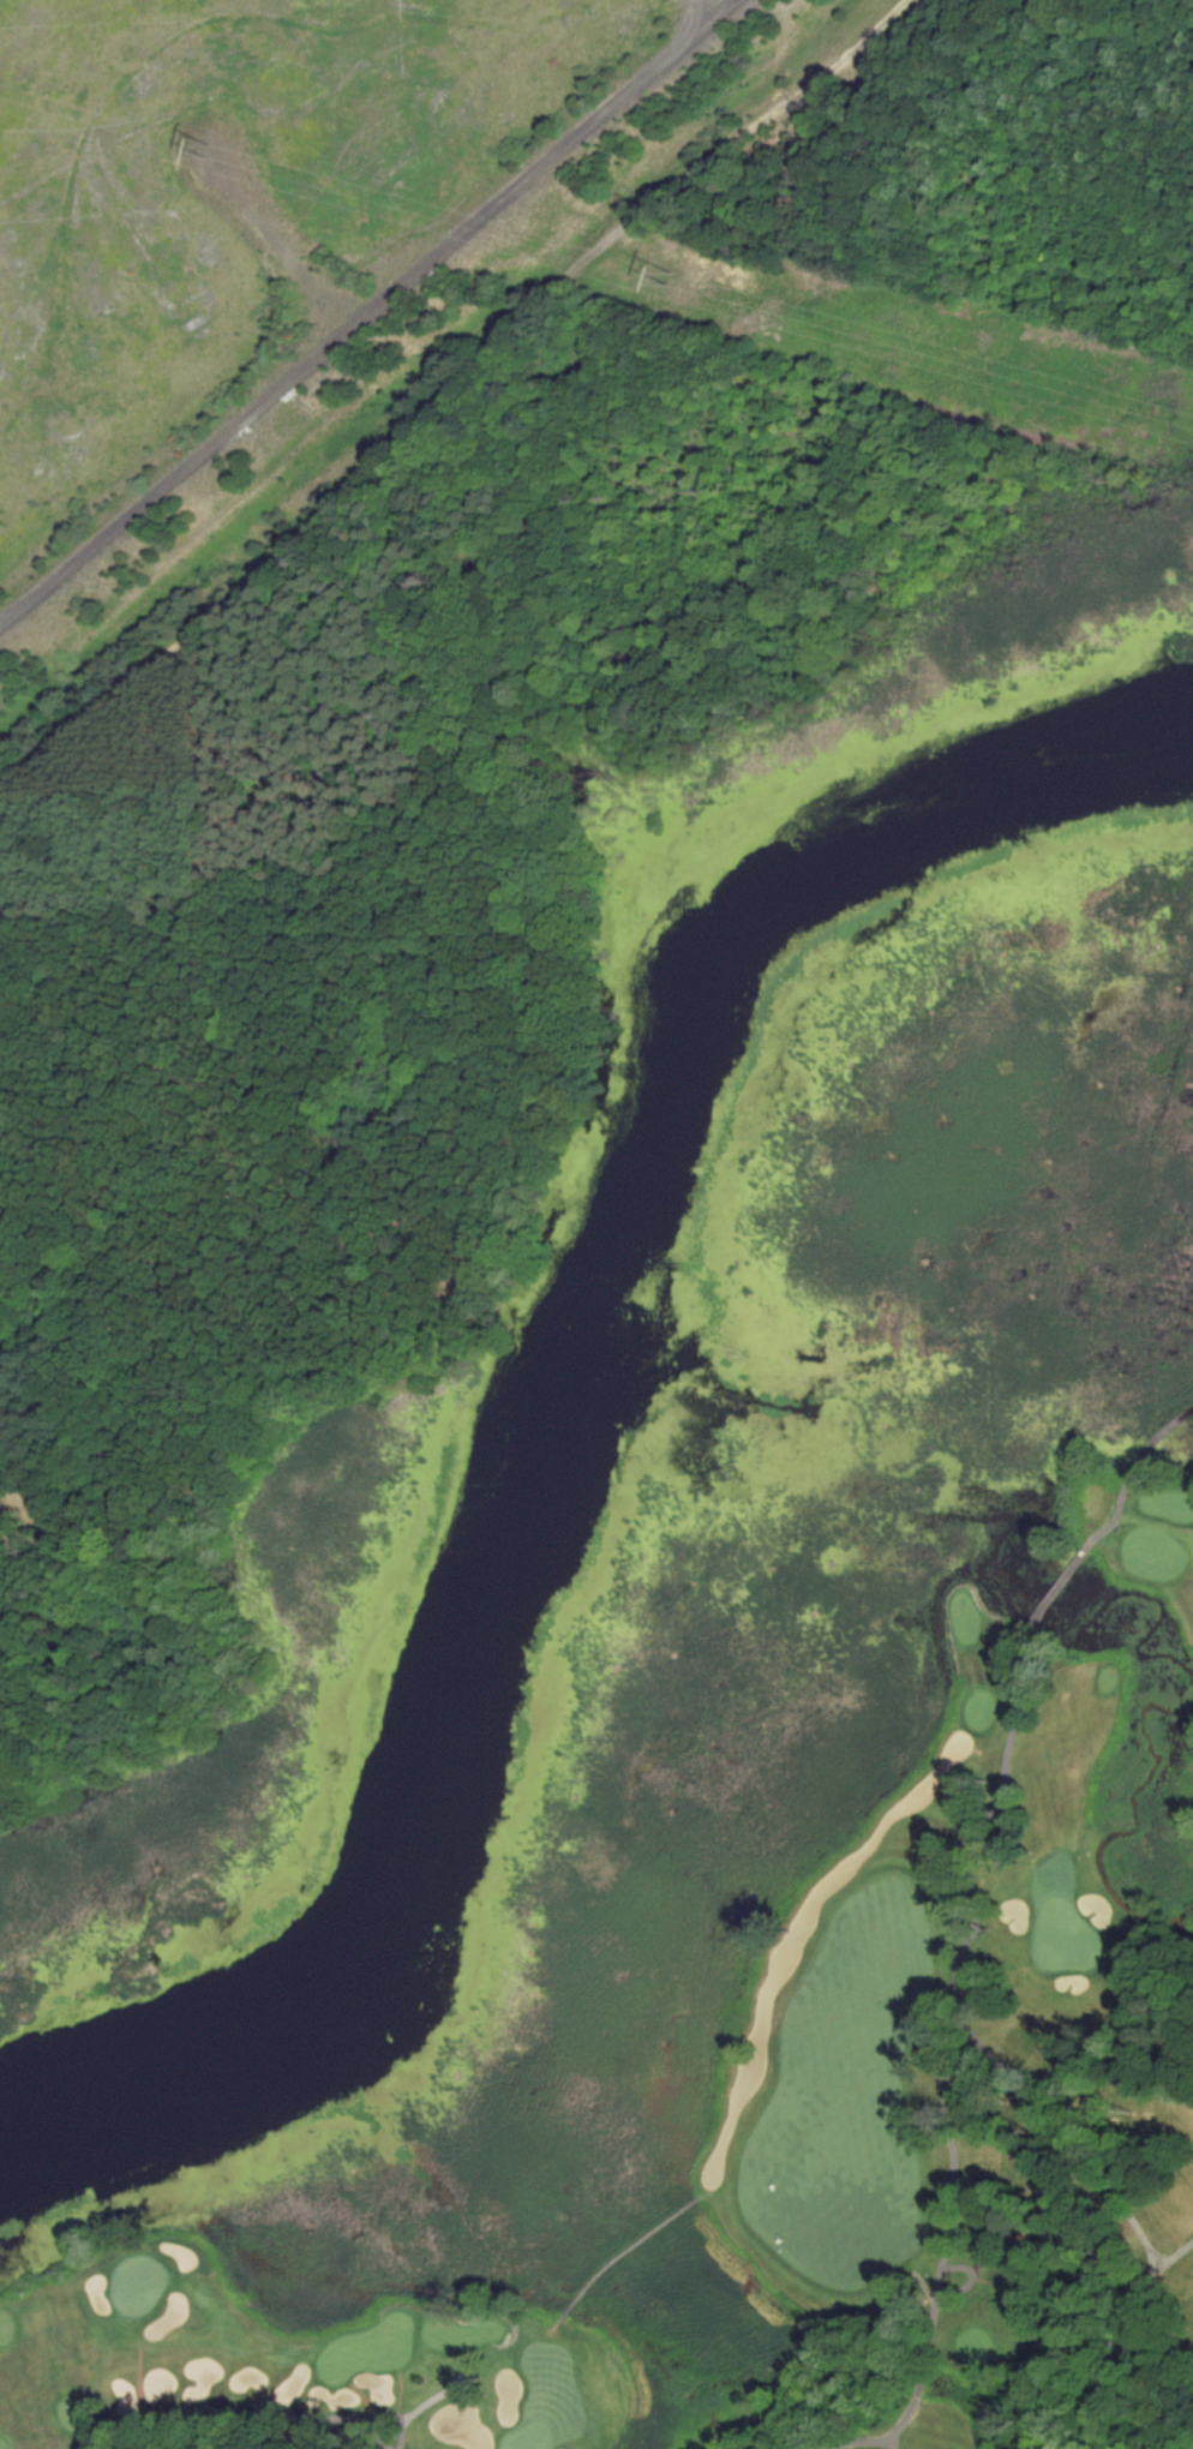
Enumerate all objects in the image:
power tower: (214, 161)
power tower: (666, 287)
river: (558, 1401)
road: (1132, 1466)
road: (1051, 1588)
road: (990, 1806)
park: (787, 1884)
road: (942, 2047)
road: (1061, 2130)
road: (615, 2251)
road: (1137, 2334)
road: (236, 2420)

